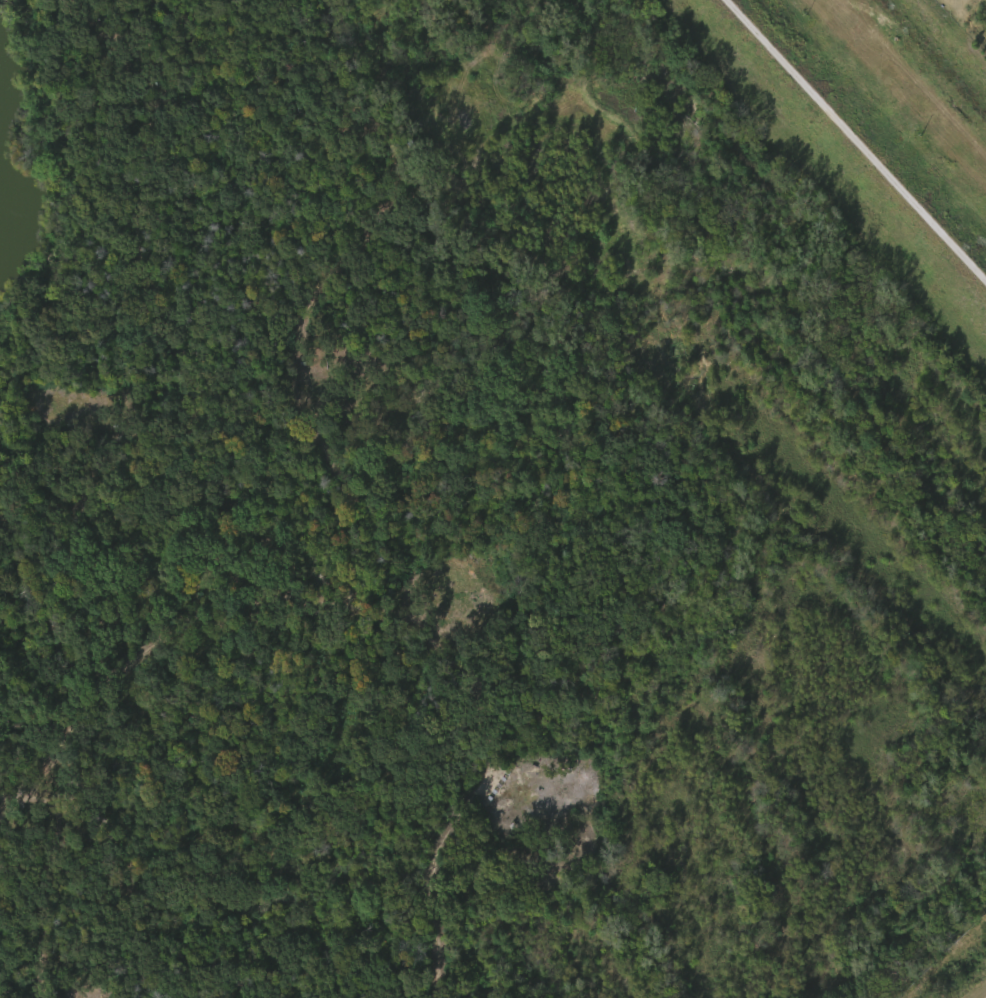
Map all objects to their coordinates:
road: (856, 139)

